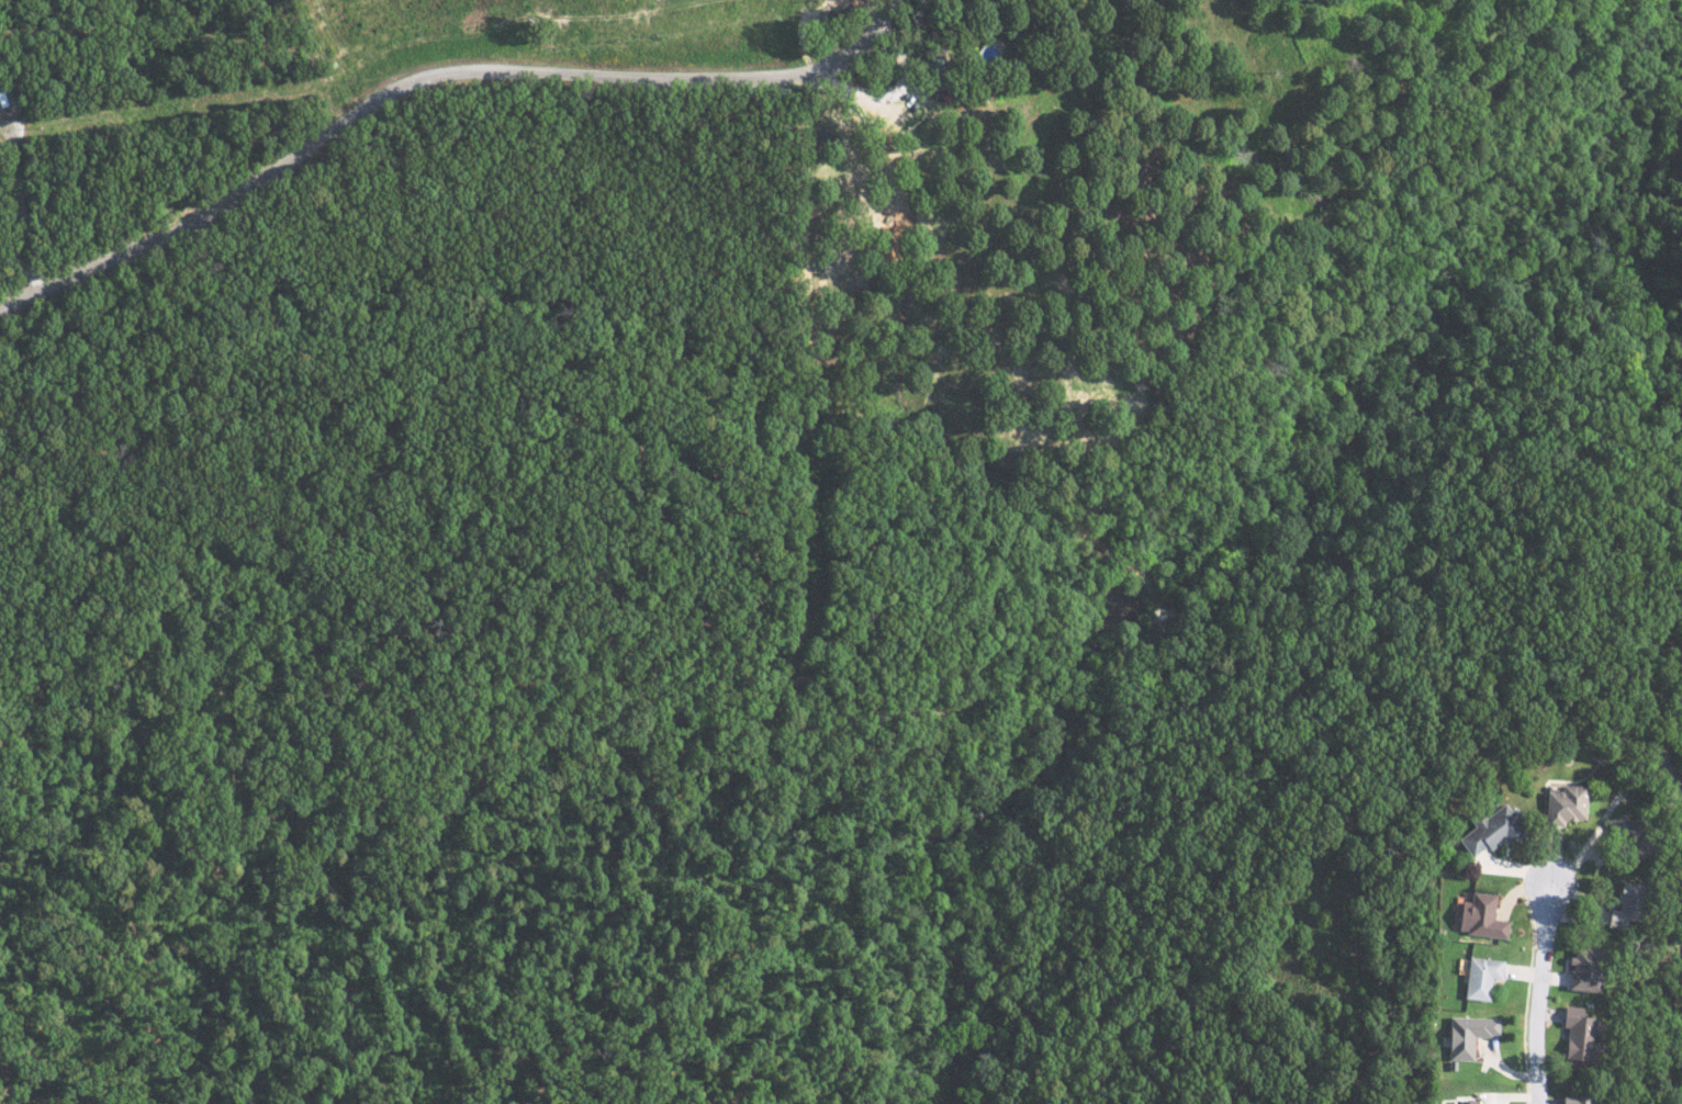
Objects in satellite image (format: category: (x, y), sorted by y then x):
road: (276, 76)
road: (433, 79)
building: (1561, 804)
building: (1483, 831)
building: (1623, 836)
building: (1619, 908)
building: (1477, 916)
building: (1579, 970)
building: (1477, 977)
road: (1539, 993)
building: (1572, 1034)
building: (1465, 1035)
building: (1572, 1100)
building: (1462, 1102)

